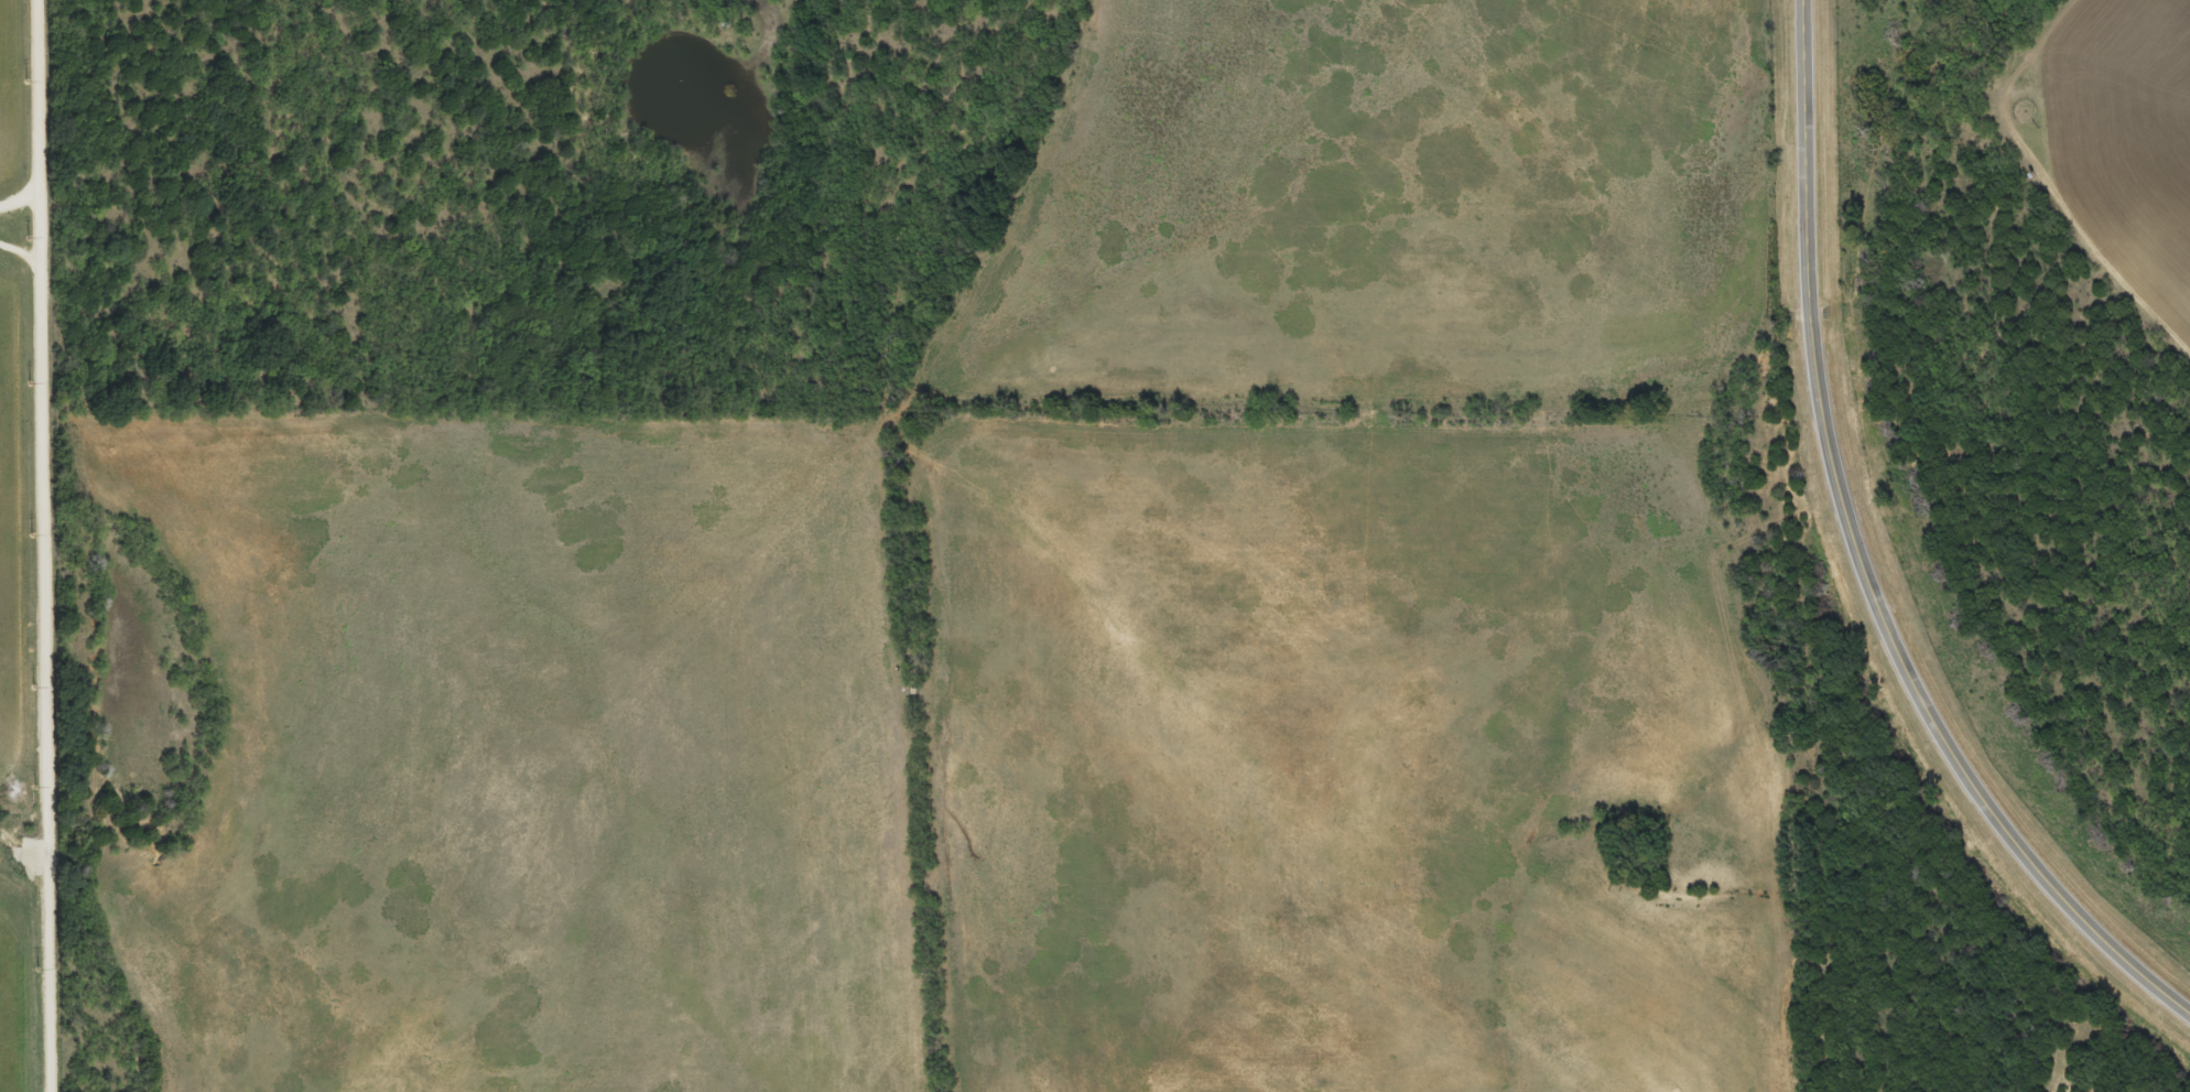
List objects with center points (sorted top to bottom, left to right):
road: (47, 545)
road: (1865, 559)

